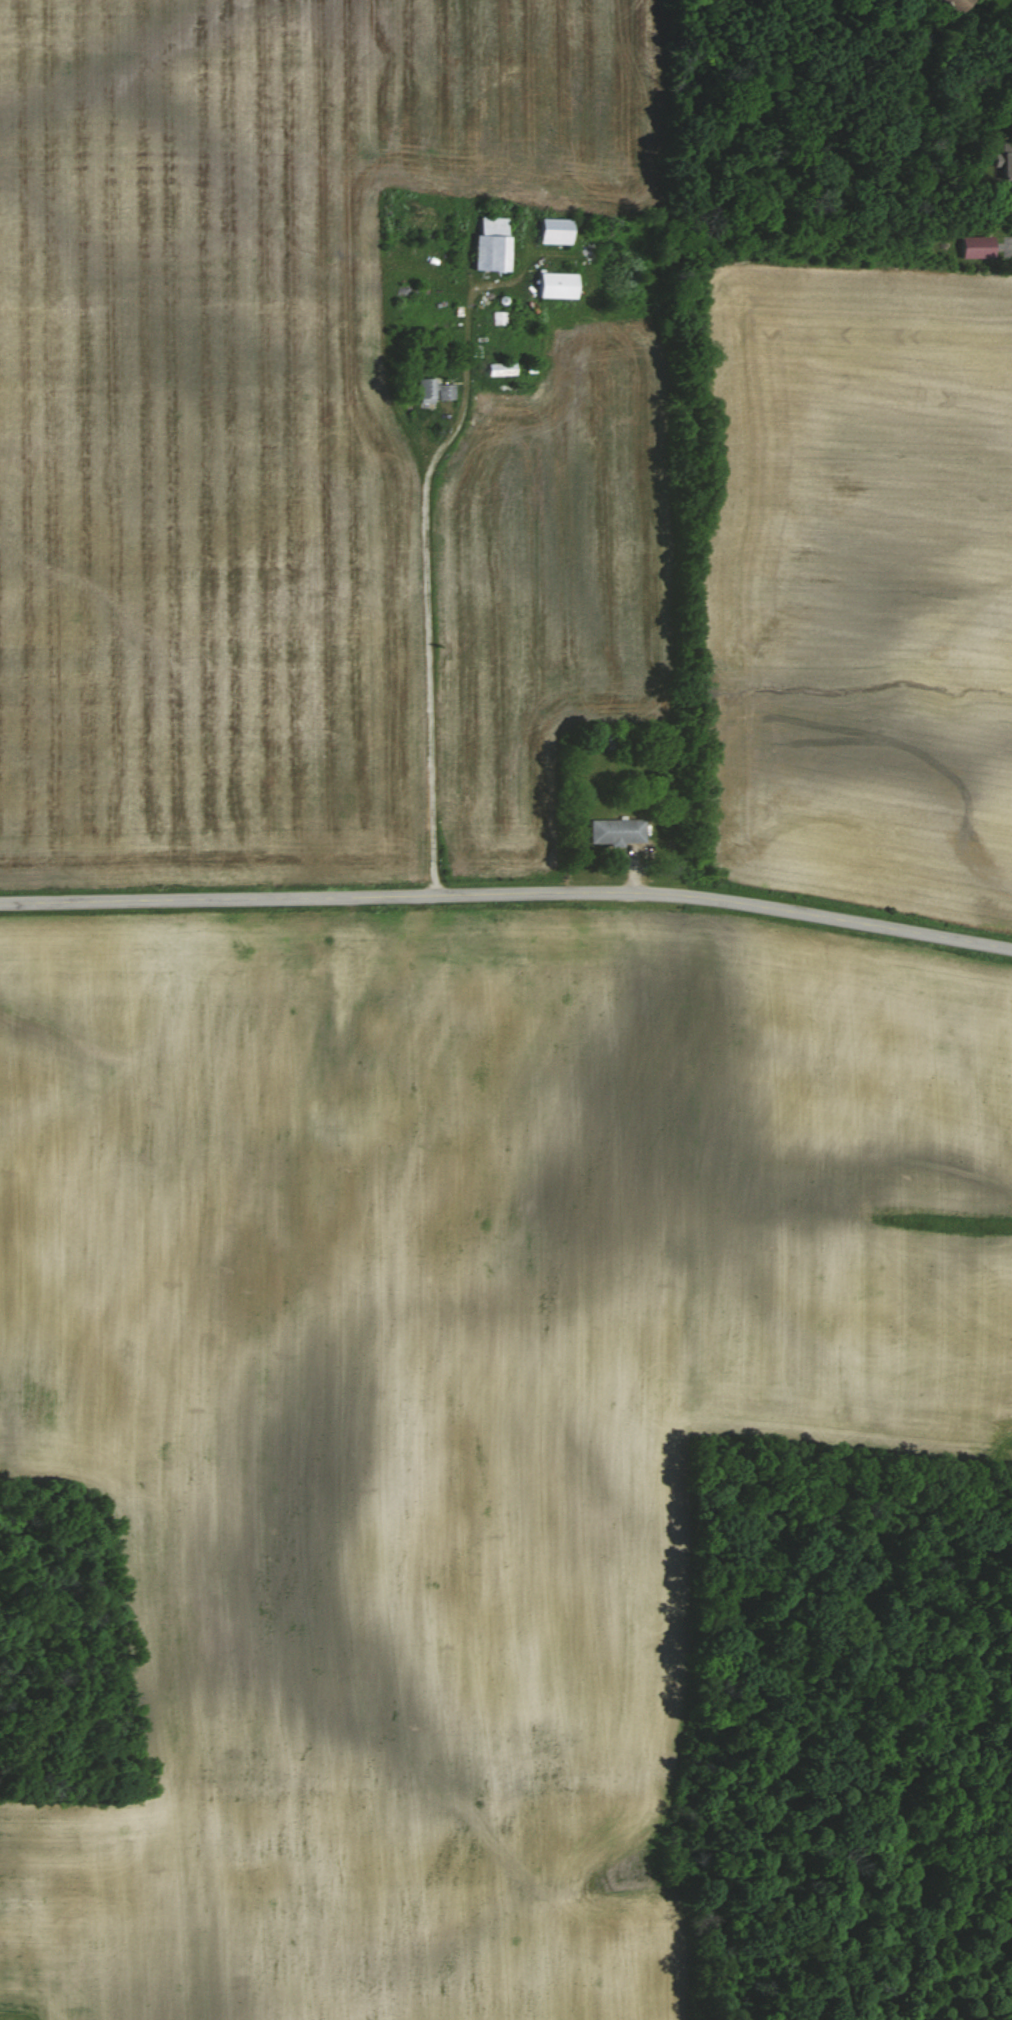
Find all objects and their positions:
building: (953, 5)
building: (1005, 160)
building: (551, 231)
building: (488, 245)
building: (974, 247)
building: (552, 285)
building: (499, 369)
building: (430, 390)
road: (426, 583)
building: (614, 831)
road: (508, 894)

